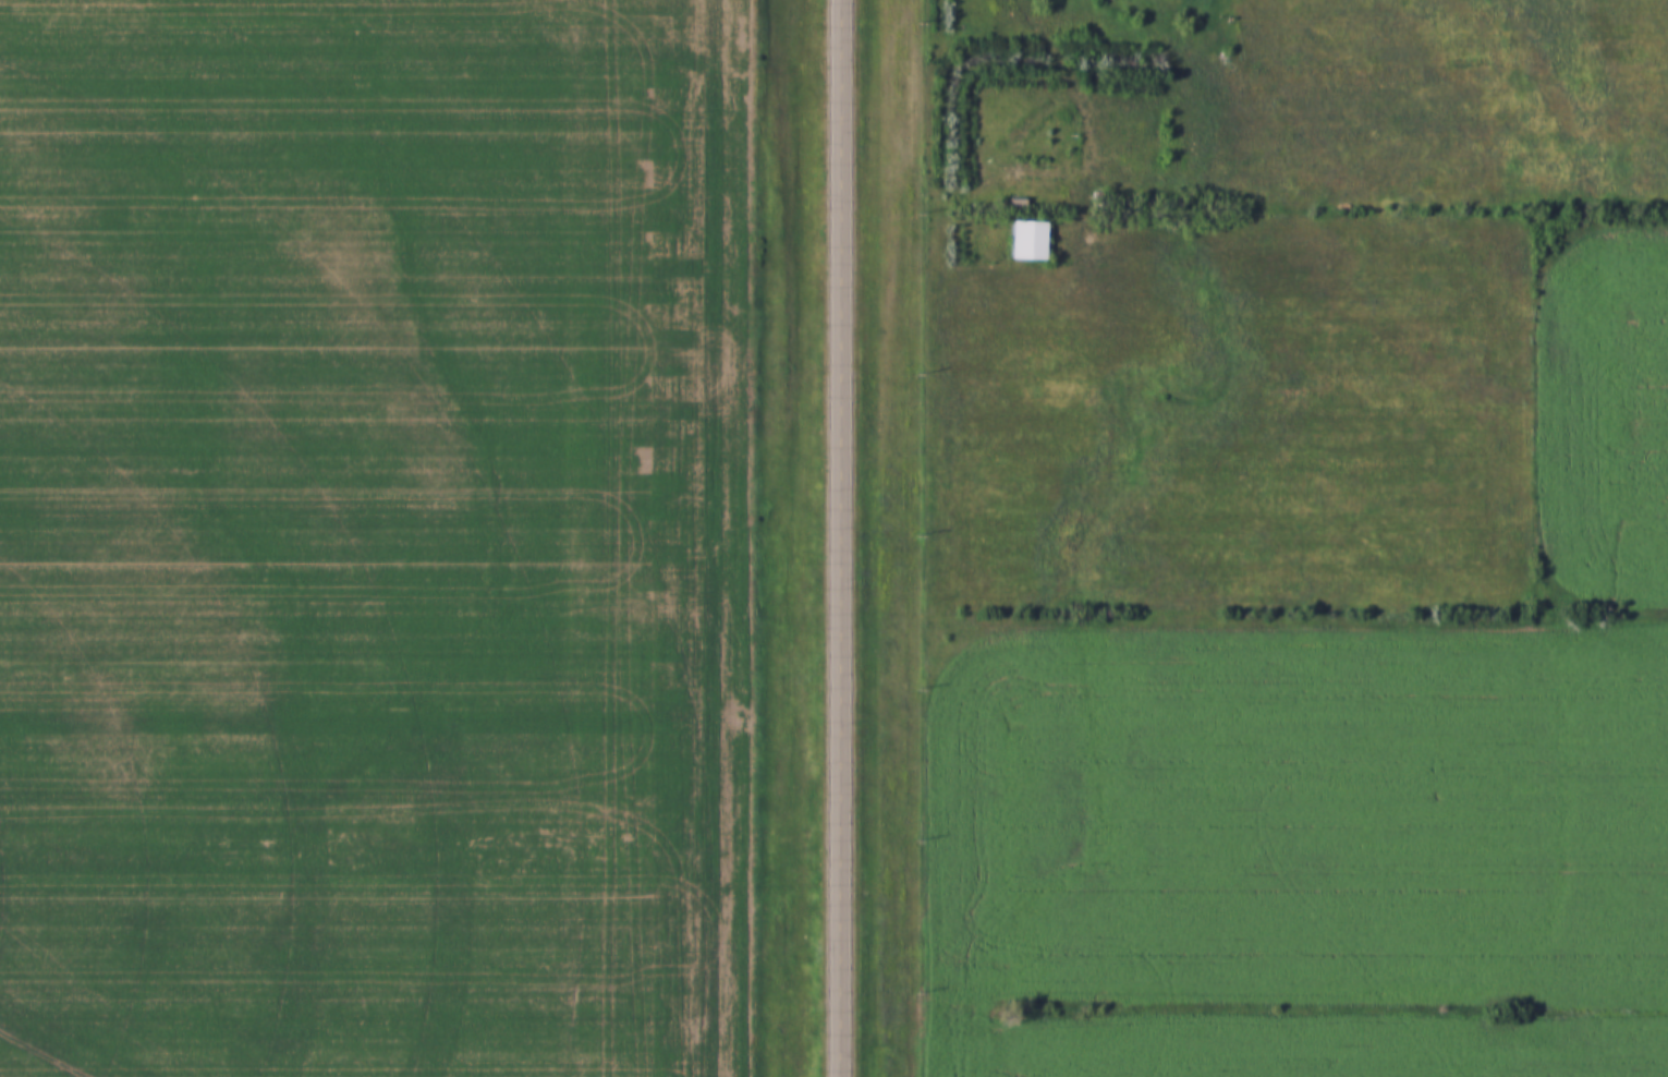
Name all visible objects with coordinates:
road: (1083, 99)
building: (1021, 202)
building: (1033, 239)
road: (844, 537)

